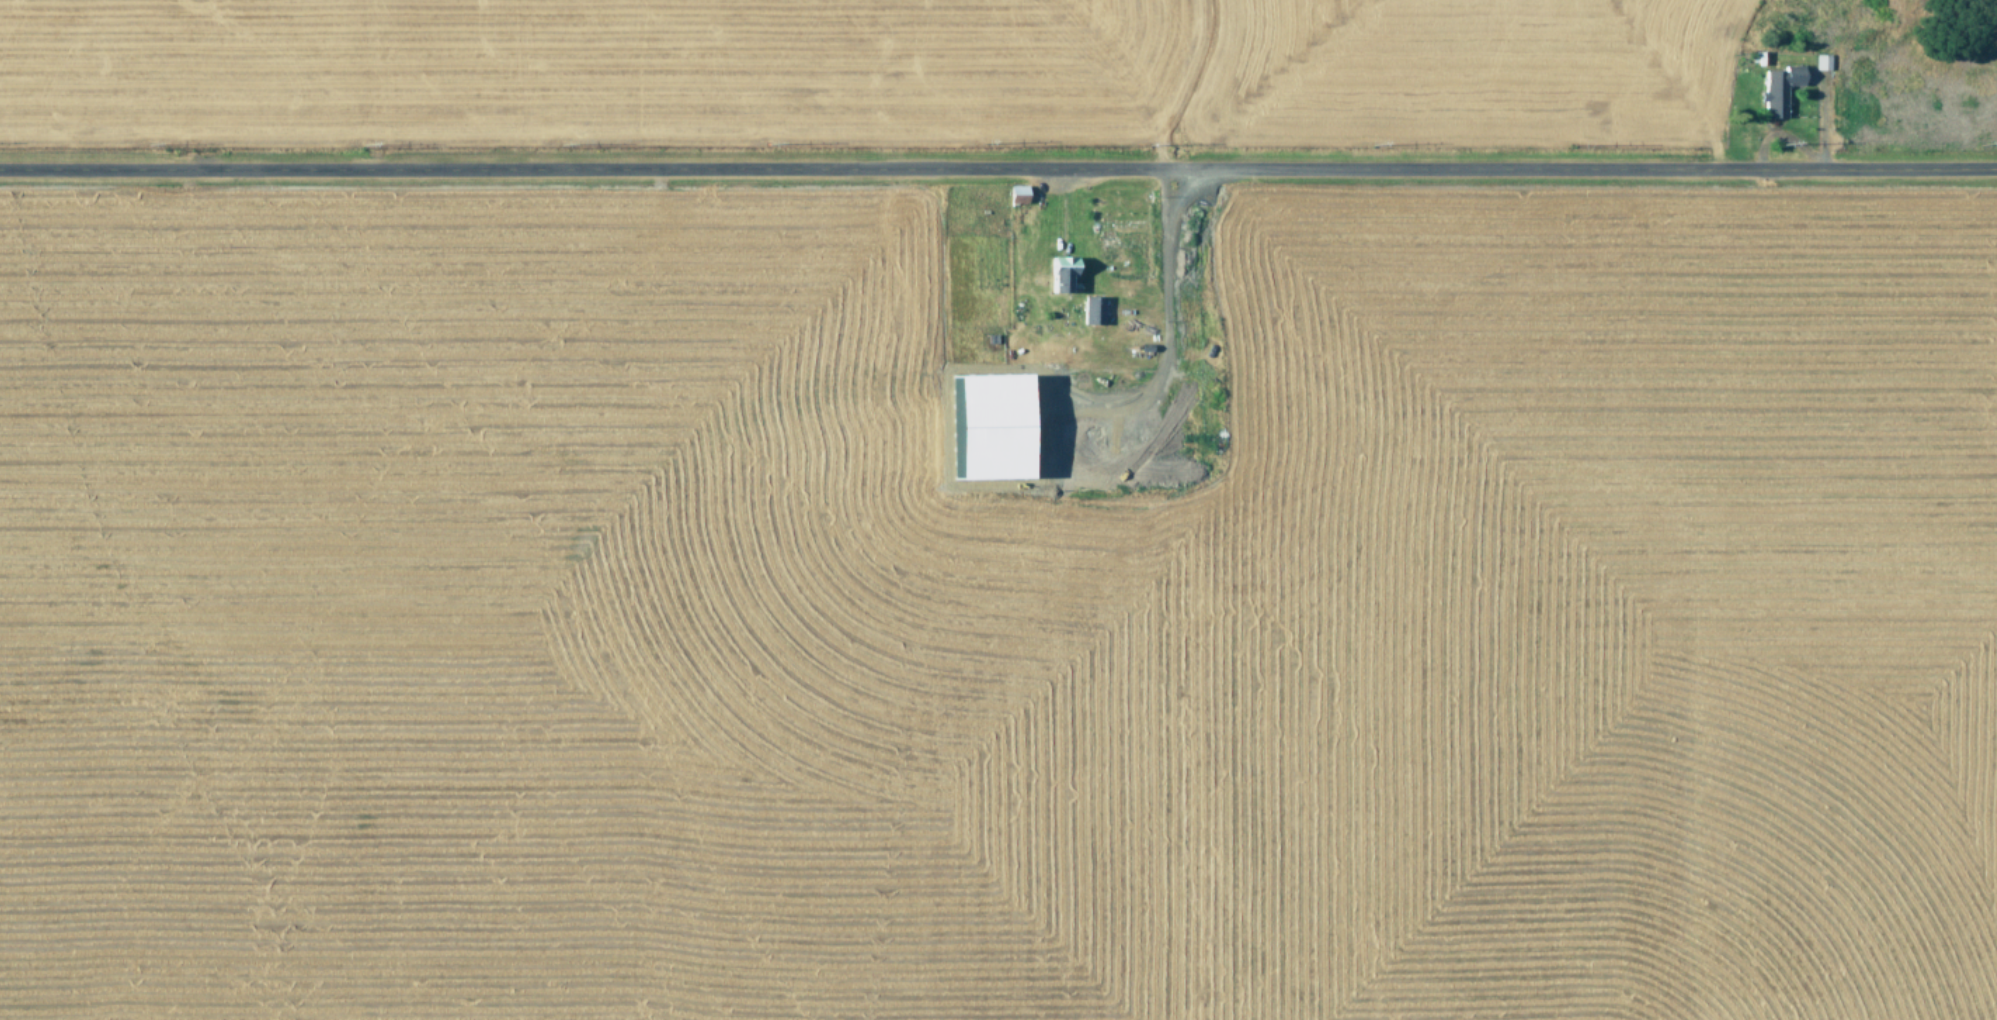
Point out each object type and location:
building: (1819, 60)
building: (1775, 88)
road: (998, 147)
crop: (998, 510)

